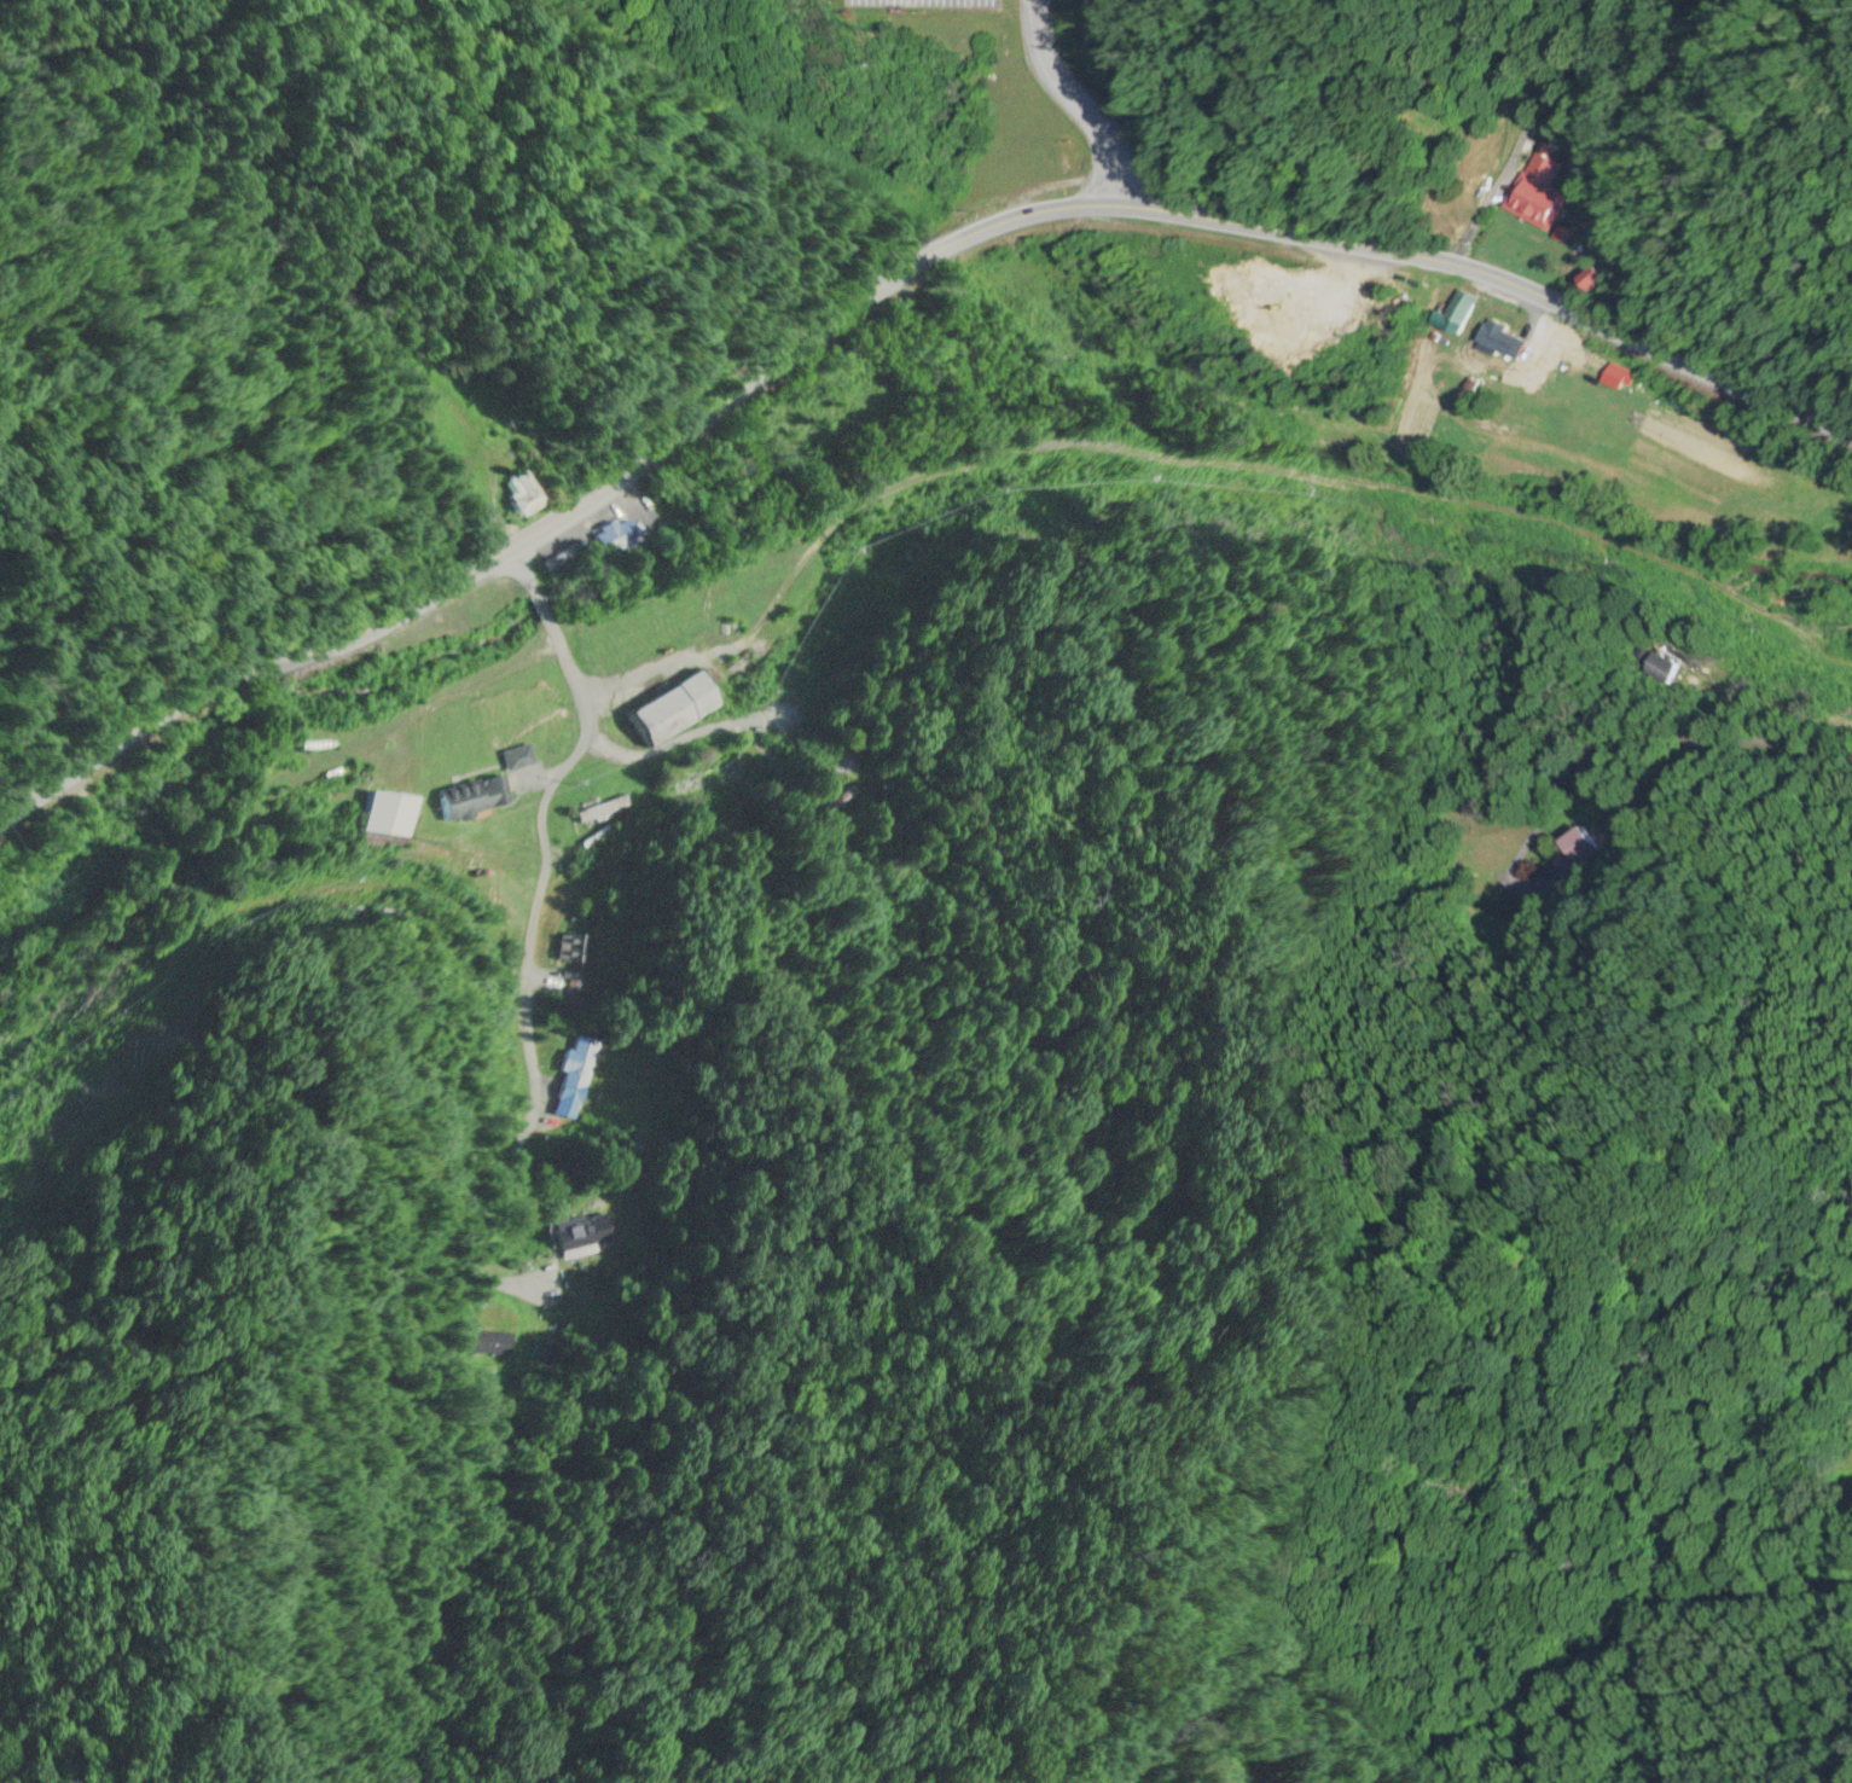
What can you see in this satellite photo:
road: (1075, 105)
road: (1608, 153)
building: (1532, 207)
road: (878, 298)
building: (1455, 315)
building: (1502, 342)
building: (1615, 379)
building: (518, 496)
building: (609, 540)
road: (524, 573)
road: (538, 606)
building: (672, 710)
building: (515, 760)
building: (706, 783)
building: (472, 800)
building: (838, 805)
building: (597, 811)
building: (388, 815)
building: (574, 948)
road: (535, 982)
building: (575, 1078)
building: (568, 1237)
building: (1761, 1454)

